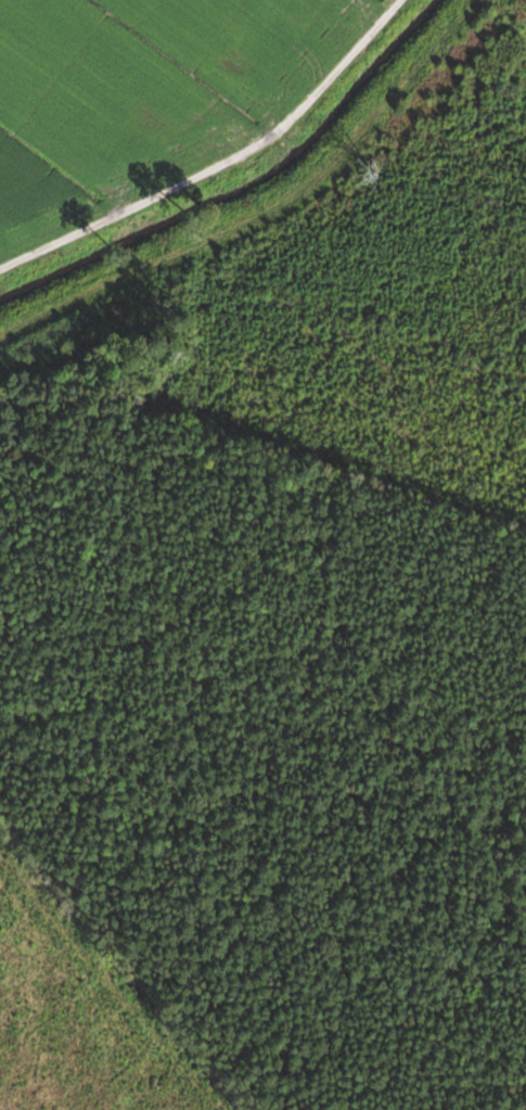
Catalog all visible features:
road: (221, 169)

